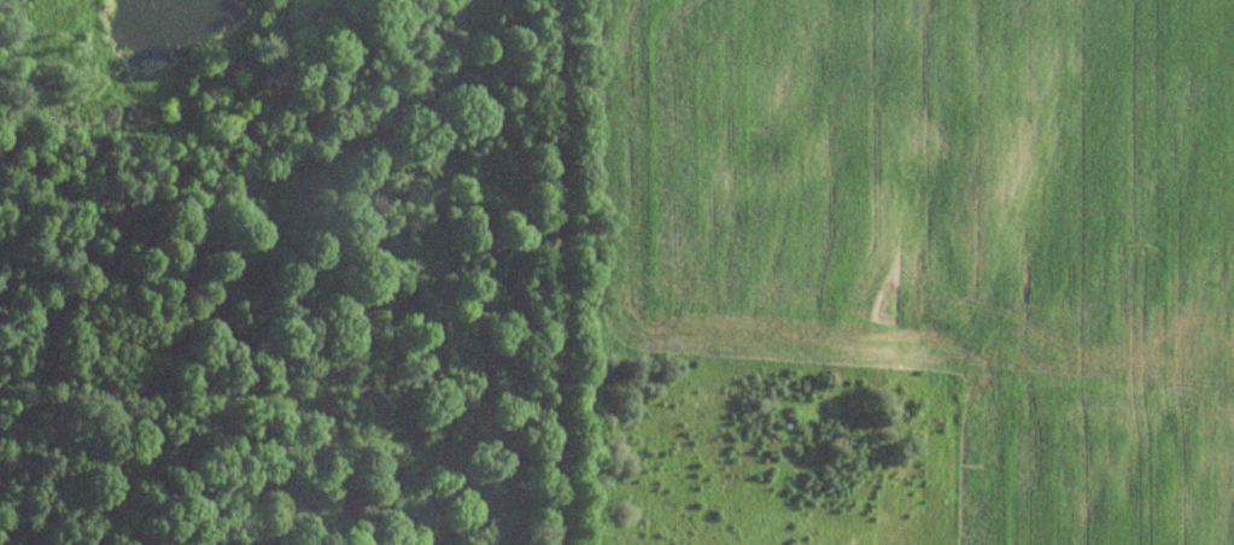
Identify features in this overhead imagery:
road: (555, 272)

